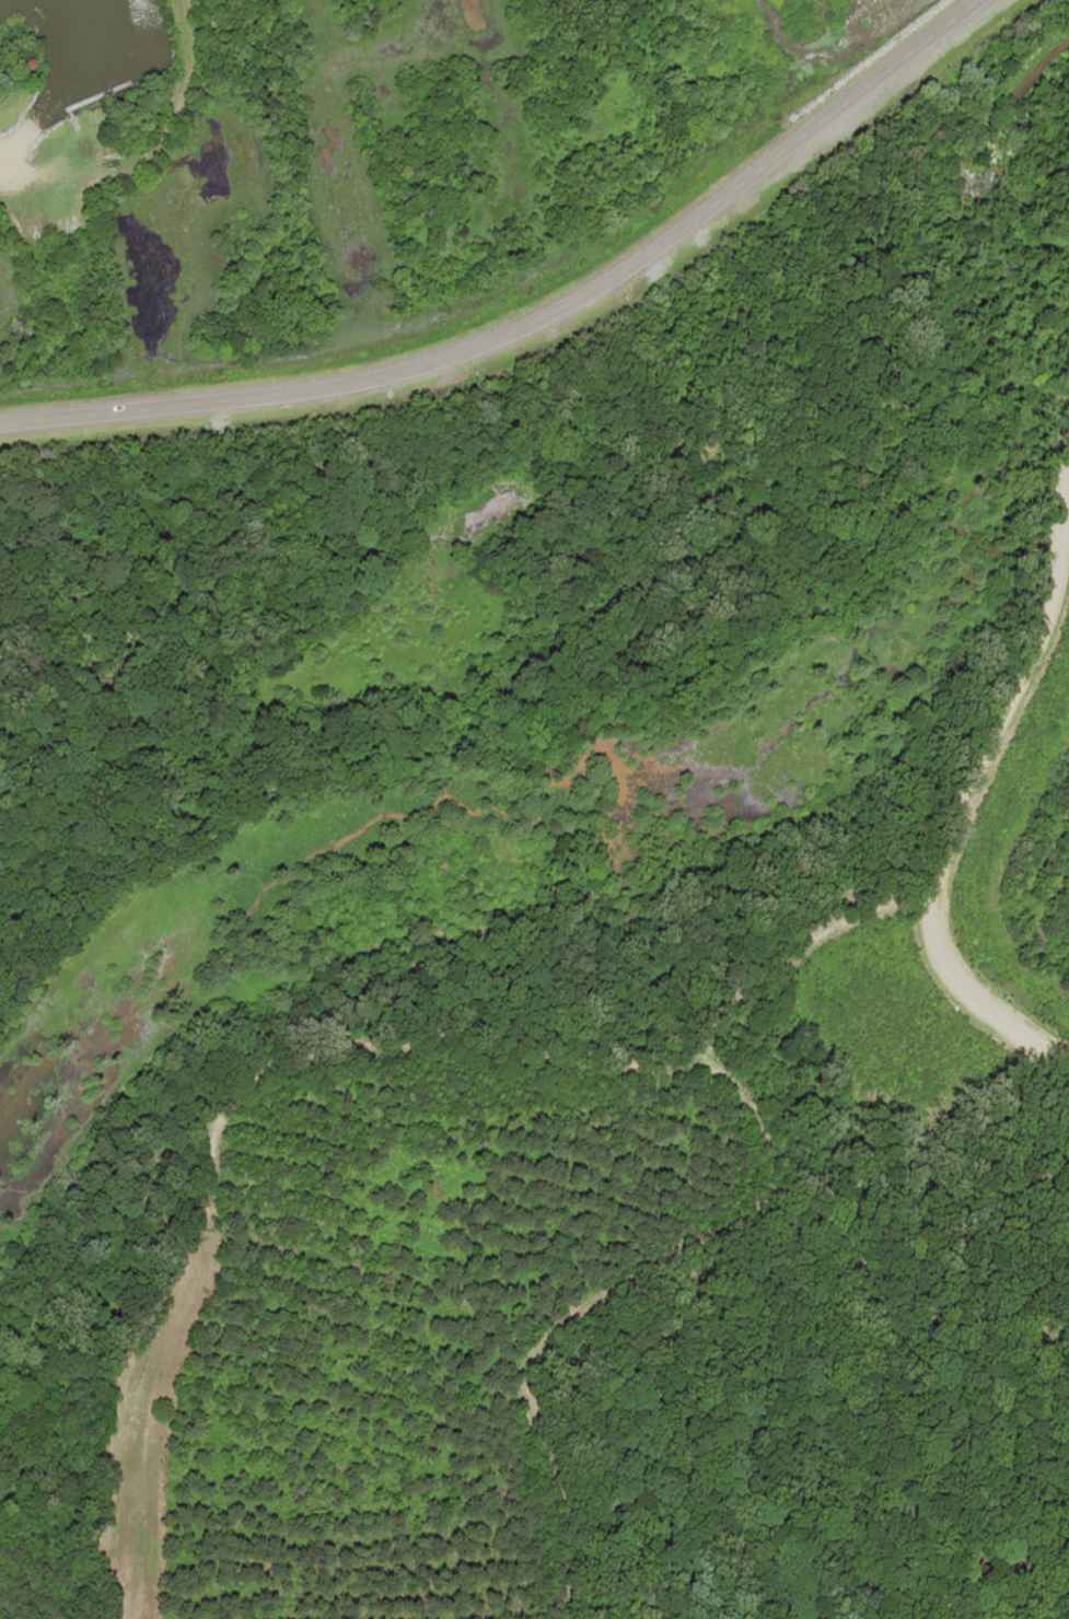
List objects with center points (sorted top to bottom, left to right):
road: (4, 167)
road: (533, 322)
road: (964, 827)

